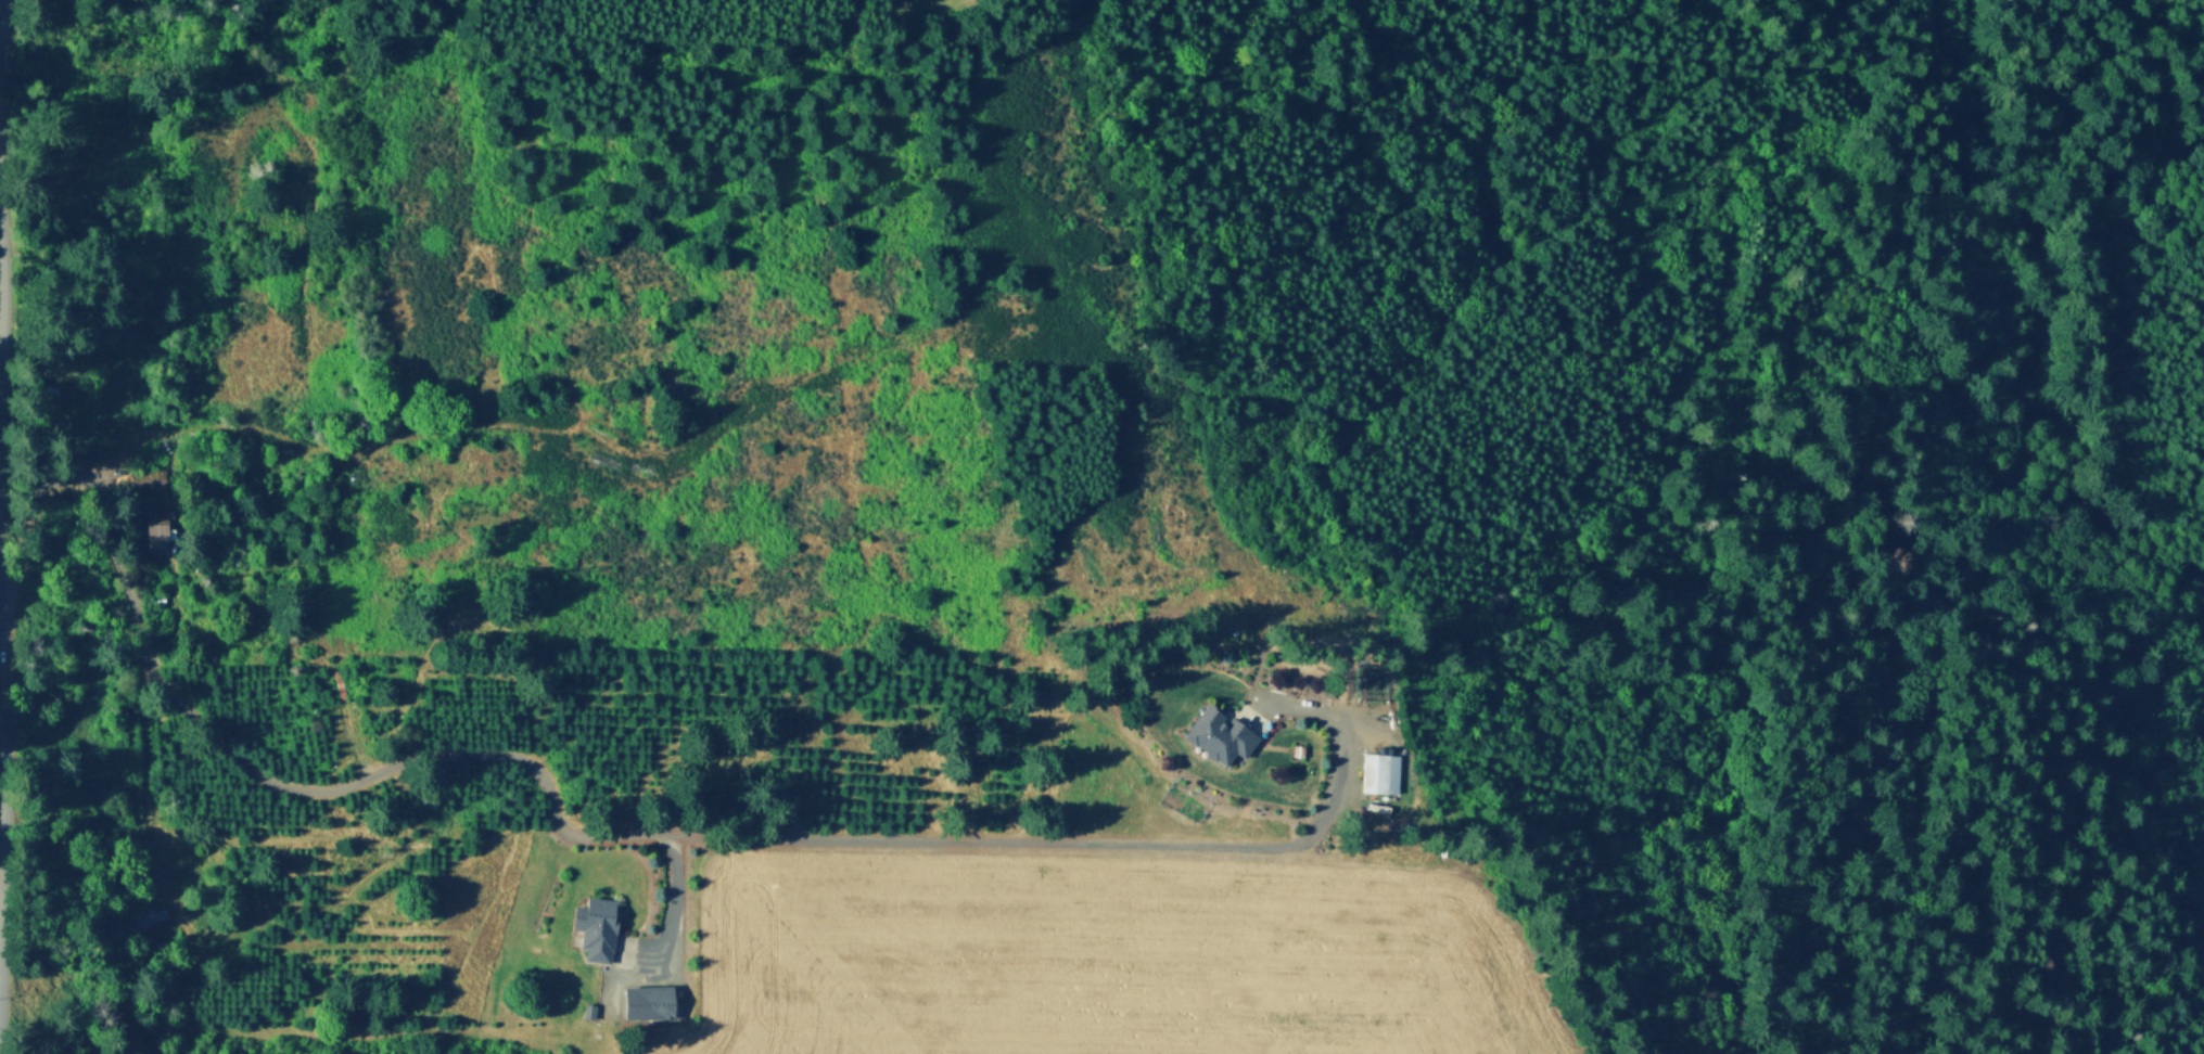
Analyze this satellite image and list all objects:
road: (1, 34)
building: (47, 404)
road: (2, 410)
road: (103, 477)
building: (146, 480)
building: (156, 534)
road: (2, 653)
building: (1218, 738)
building: (1298, 754)
building: (1381, 776)
road: (290, 787)
road: (1101, 845)
building: (176, 864)
road: (1, 878)
building: (146, 920)
road: (676, 924)
building: (595, 929)
crop: (1087, 955)
building: (647, 1004)
building: (588, 1014)

